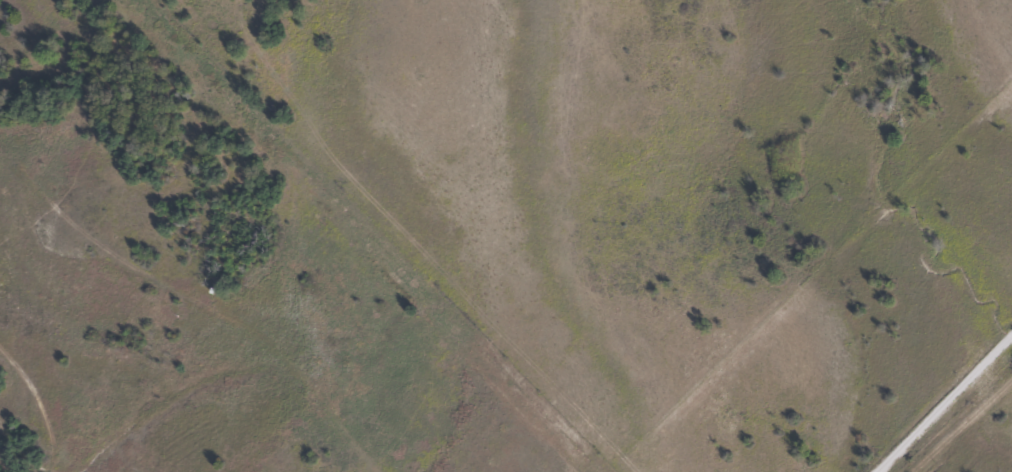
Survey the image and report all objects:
road: (954, 418)

